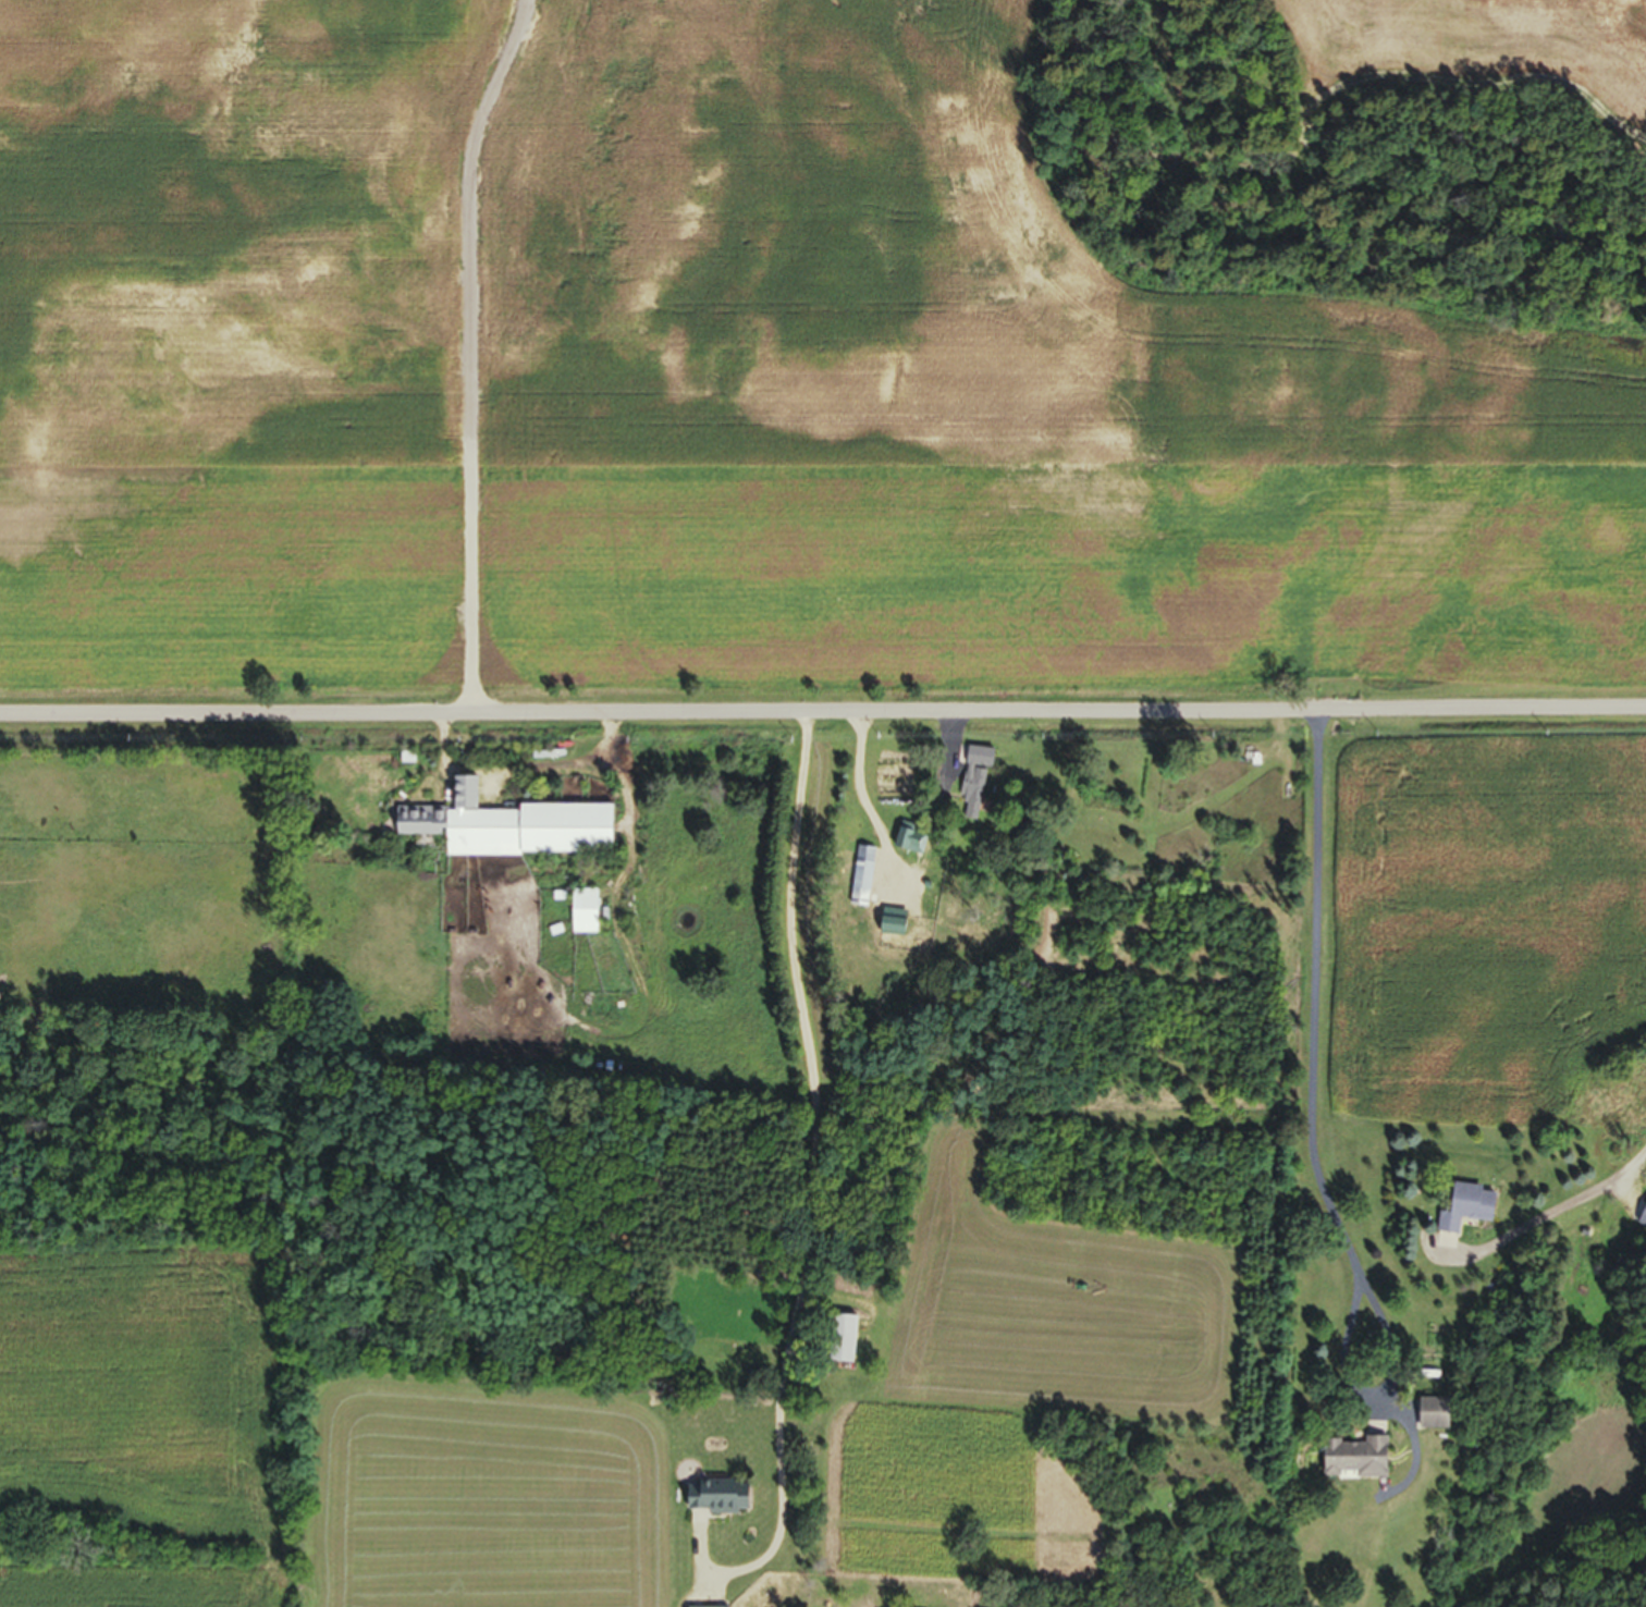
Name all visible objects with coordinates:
road: (470, 353)
road: (823, 712)
building: (970, 789)
building: (506, 835)
building: (859, 880)
building: (578, 917)
building: (884, 934)
road: (1310, 1130)
road: (815, 1182)
building: (1461, 1212)
road: (1547, 1219)
building: (1642, 1219)
building: (838, 1345)
building: (1346, 1465)
building: (709, 1505)

